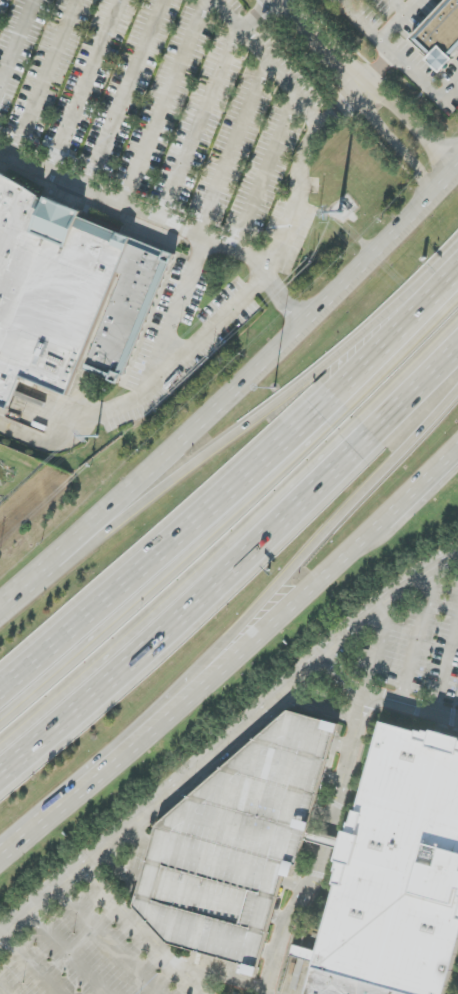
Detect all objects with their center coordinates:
road: (403, 5)
road: (260, 14)
road: (399, 20)
building: (440, 35)
road: (380, 39)
road: (16, 41)
road: (45, 78)
road: (374, 83)
road: (427, 84)
road: (80, 85)
road: (123, 94)
road: (164, 101)
road: (345, 102)
road: (204, 124)
road: (234, 147)
road: (457, 168)
road: (261, 170)
power tower: (342, 213)
road: (164, 220)
road: (440, 273)
road: (257, 276)
building: (67, 291)
road: (180, 300)
road: (231, 391)
power tower: (101, 434)
road: (211, 451)
road: (453, 459)
road: (453, 461)
road: (216, 491)
road: (416, 494)
road: (311, 557)
road: (239, 576)
road: (274, 622)
road: (415, 640)
road: (379, 650)
parking lot: (414, 655)
road: (444, 672)
road: (342, 679)
road: (322, 708)
road: (226, 743)
road: (119, 757)
road: (340, 806)
road: (37, 825)
building: (238, 843)
parking garage: (238, 843)
building: (397, 875)
road: (141, 931)
road: (110, 940)
road: (68, 952)
parking lot: (87, 957)
road: (32, 963)
road: (6, 987)

